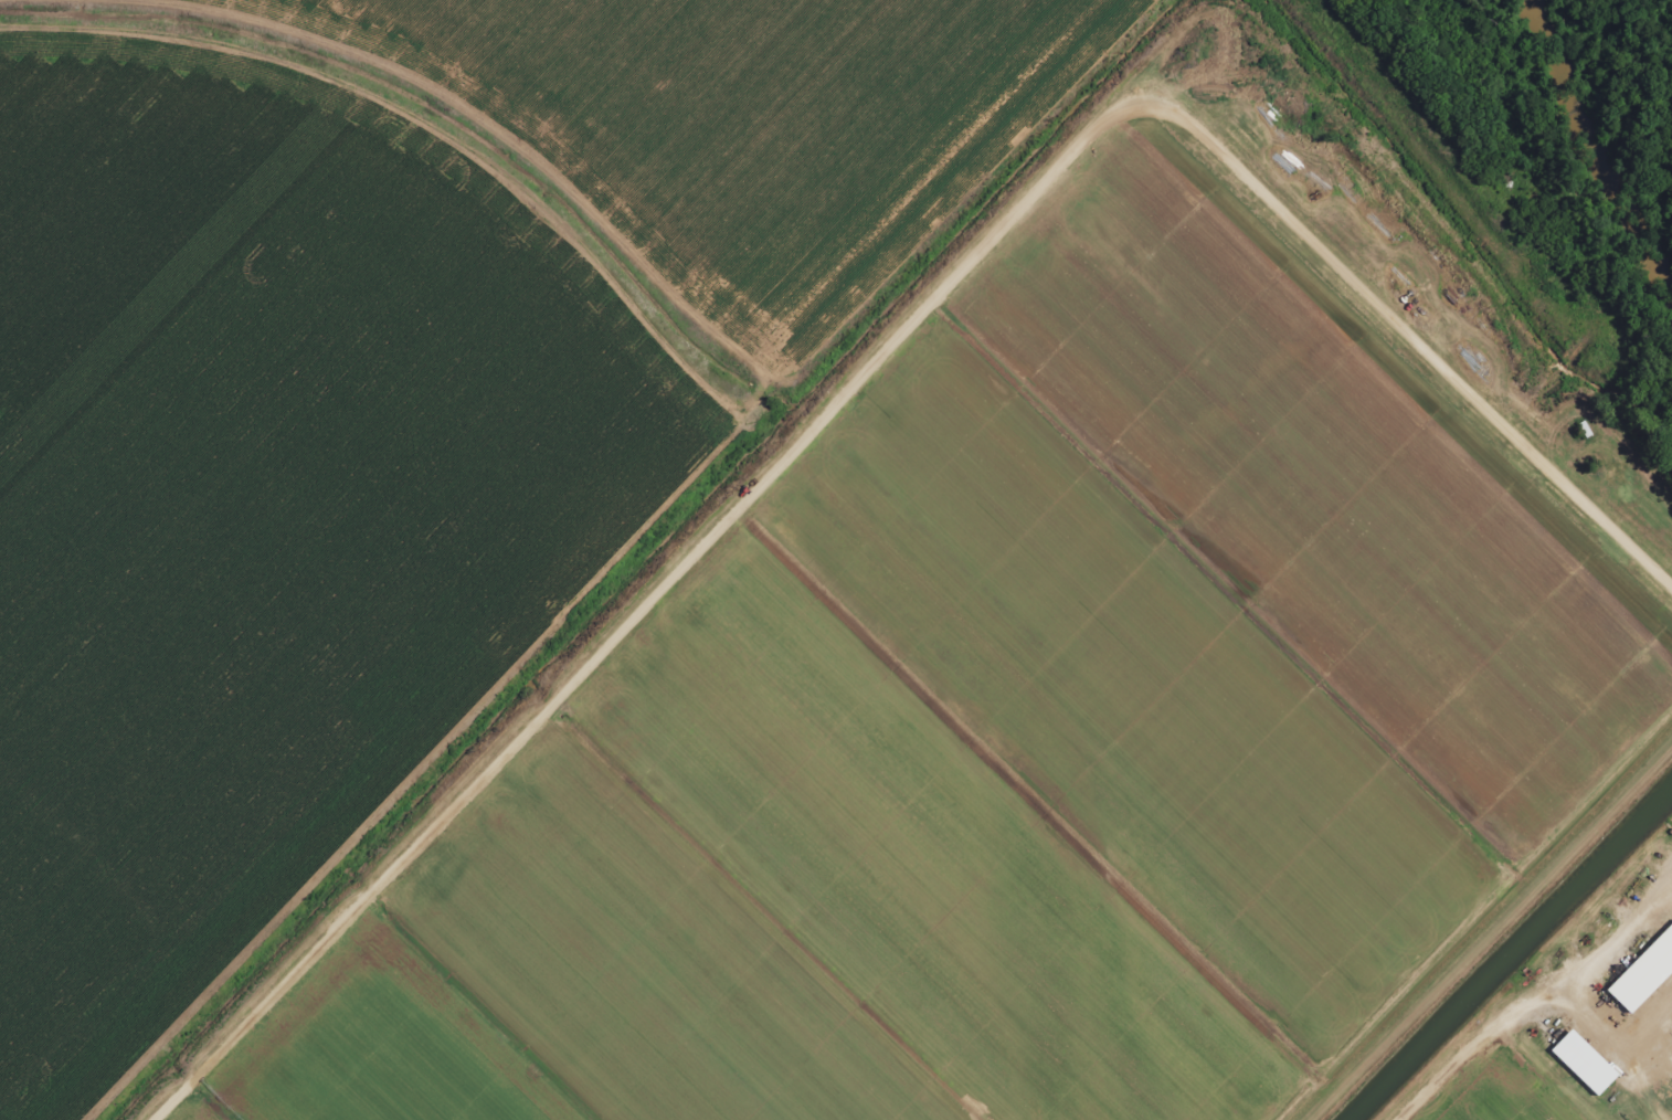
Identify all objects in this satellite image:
building: (1591, 1064)

